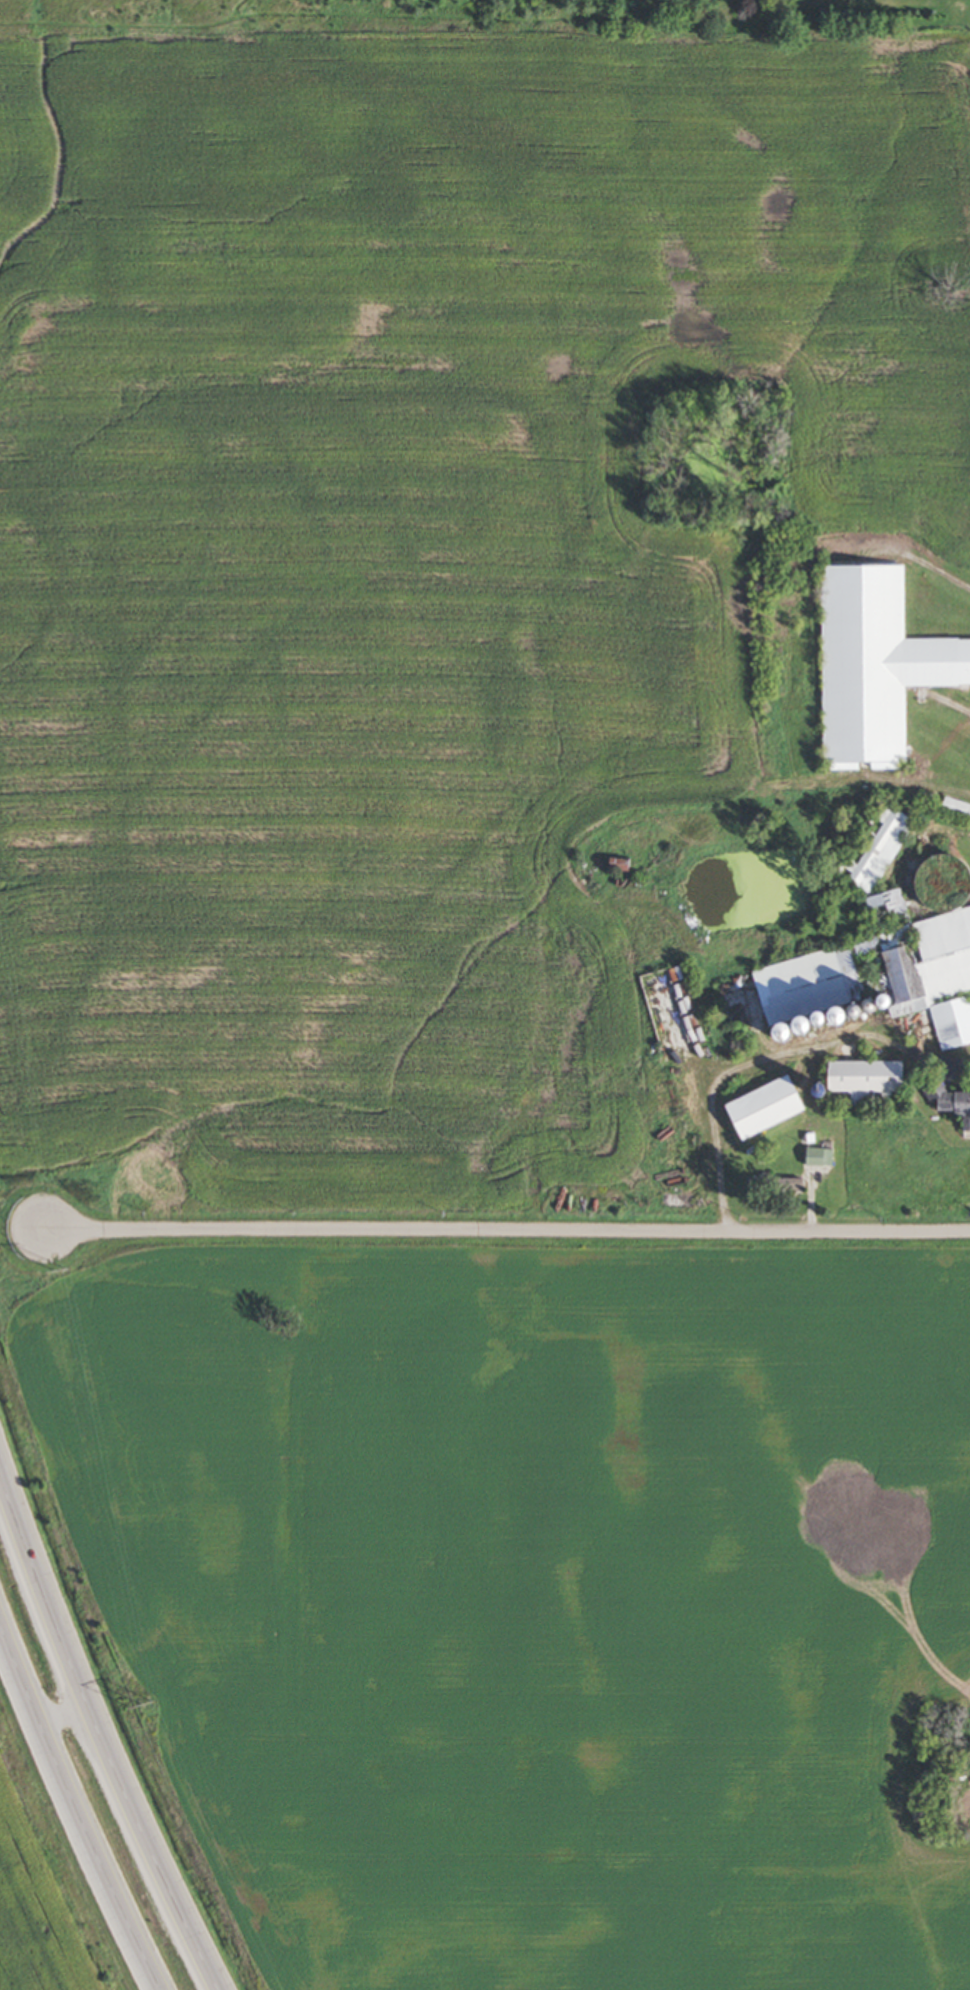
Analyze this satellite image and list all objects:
building: (876, 663)
building: (956, 807)
building: (882, 848)
building: (620, 864)
building: (889, 905)
building: (938, 953)
building: (816, 965)
building: (869, 1004)
building: (810, 1019)
road: (759, 1056)
building: (868, 1082)
building: (949, 1100)
building: (767, 1106)
road: (511, 1236)
power tower: (57, 1267)
power tower: (143, 1706)
road: (60, 1715)
road: (96, 1739)
road: (76, 1814)

